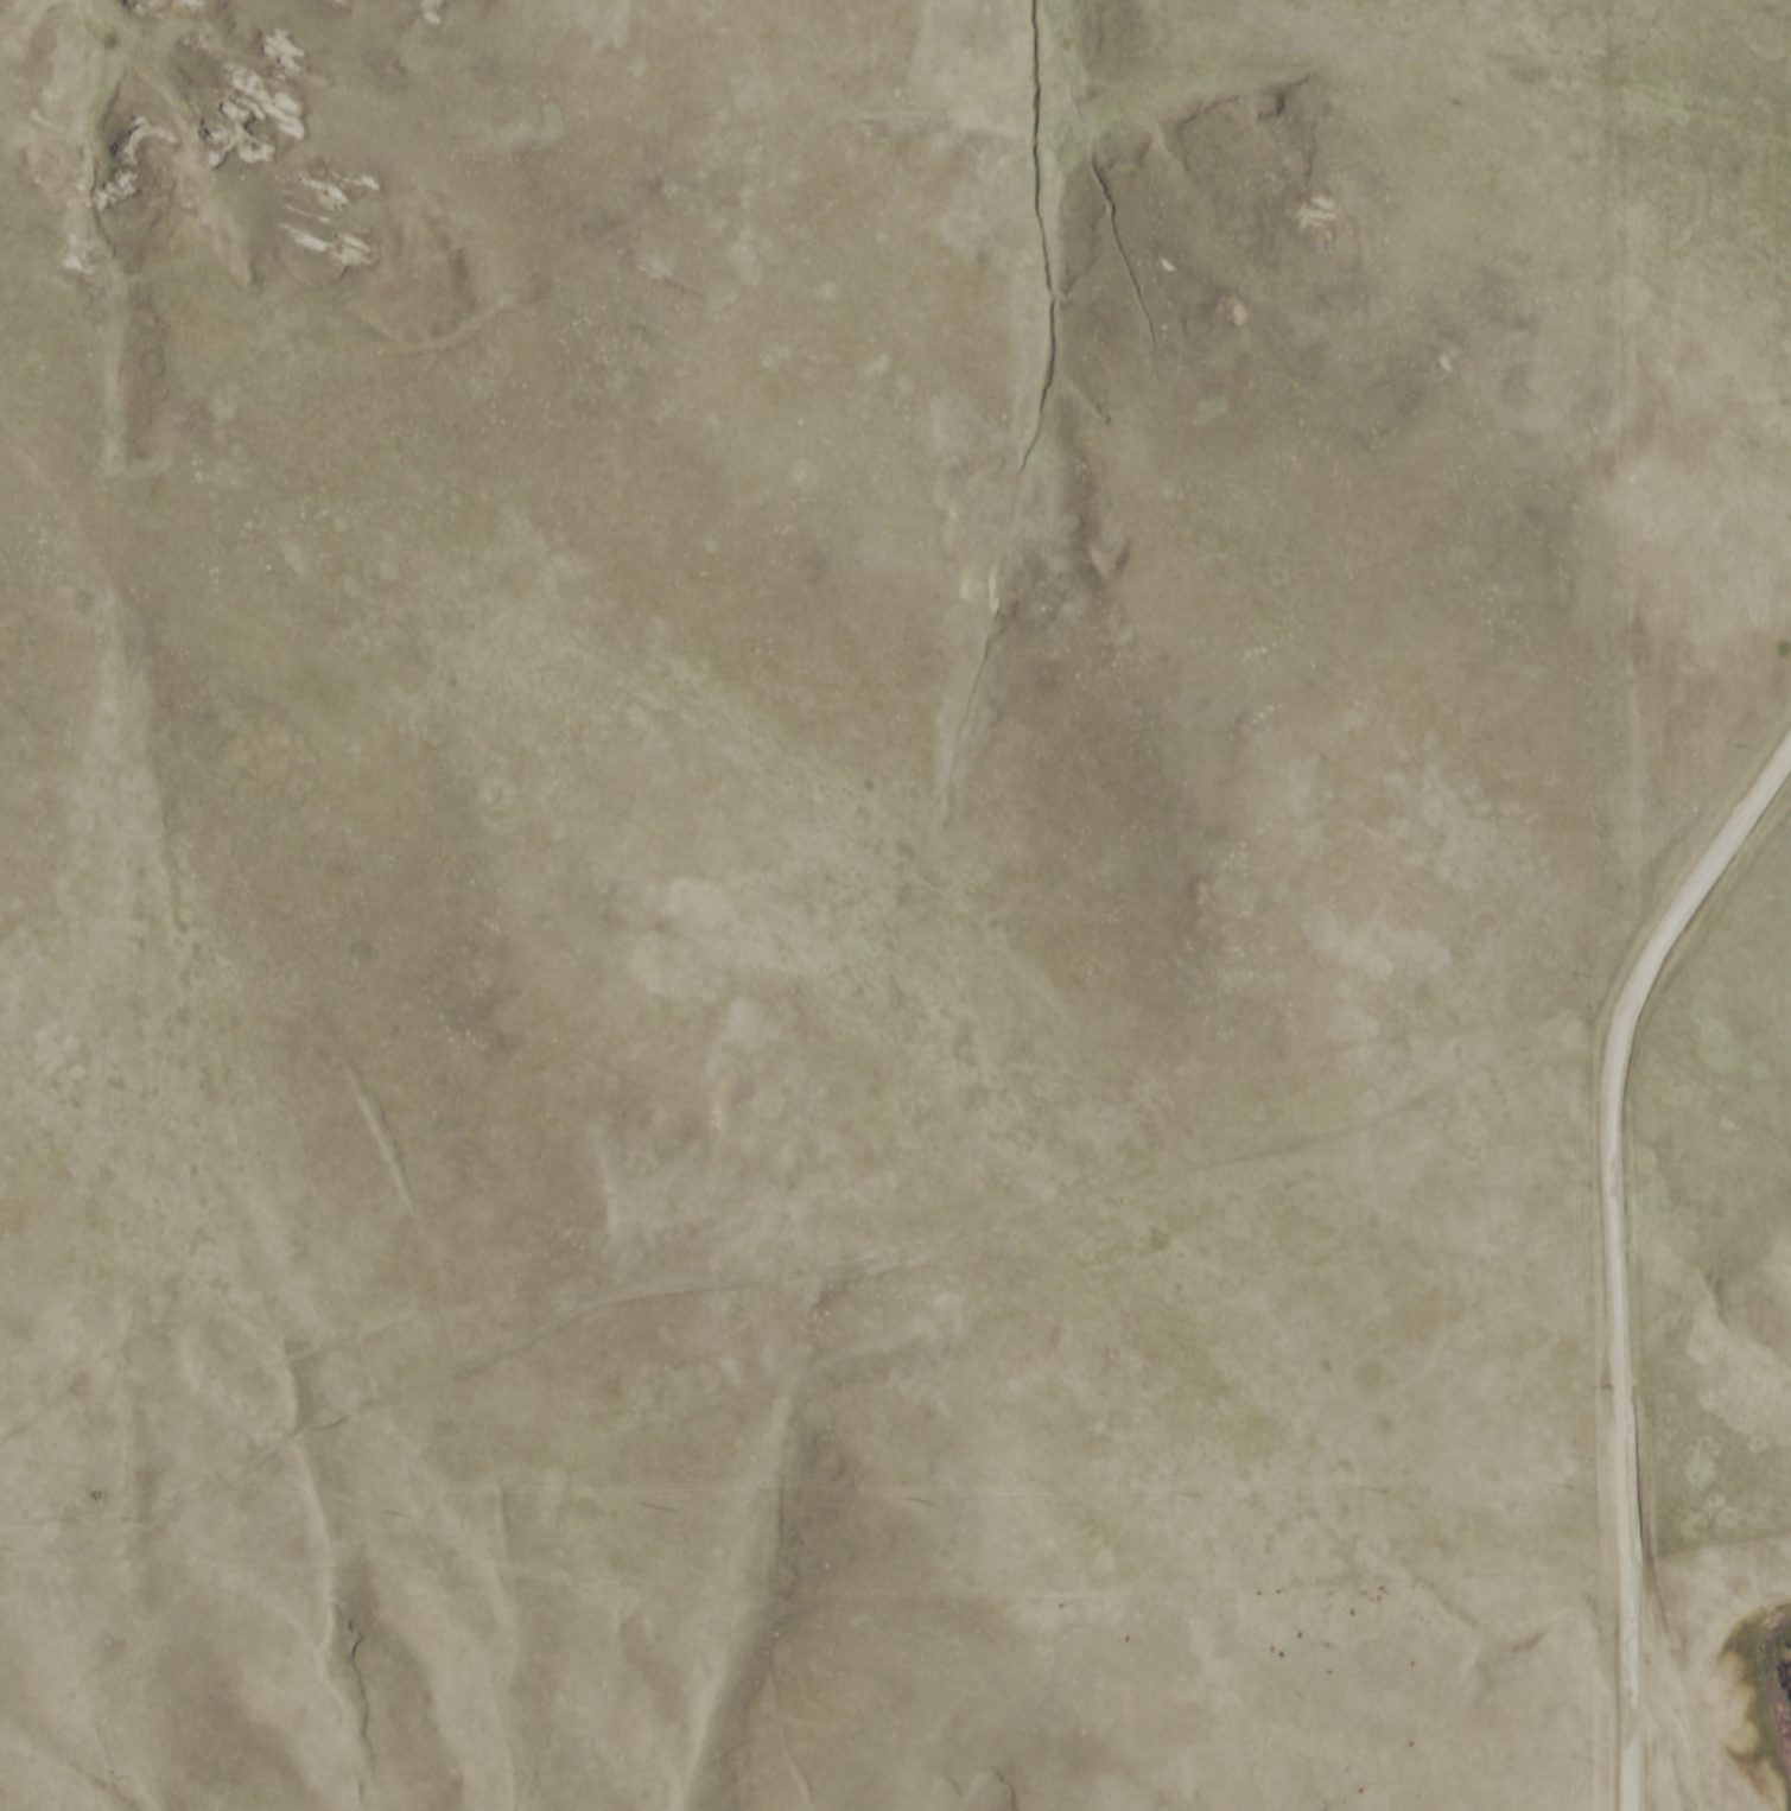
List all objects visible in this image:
road: (1703, 883)
road: (793, 889)
road: (1624, 1412)

